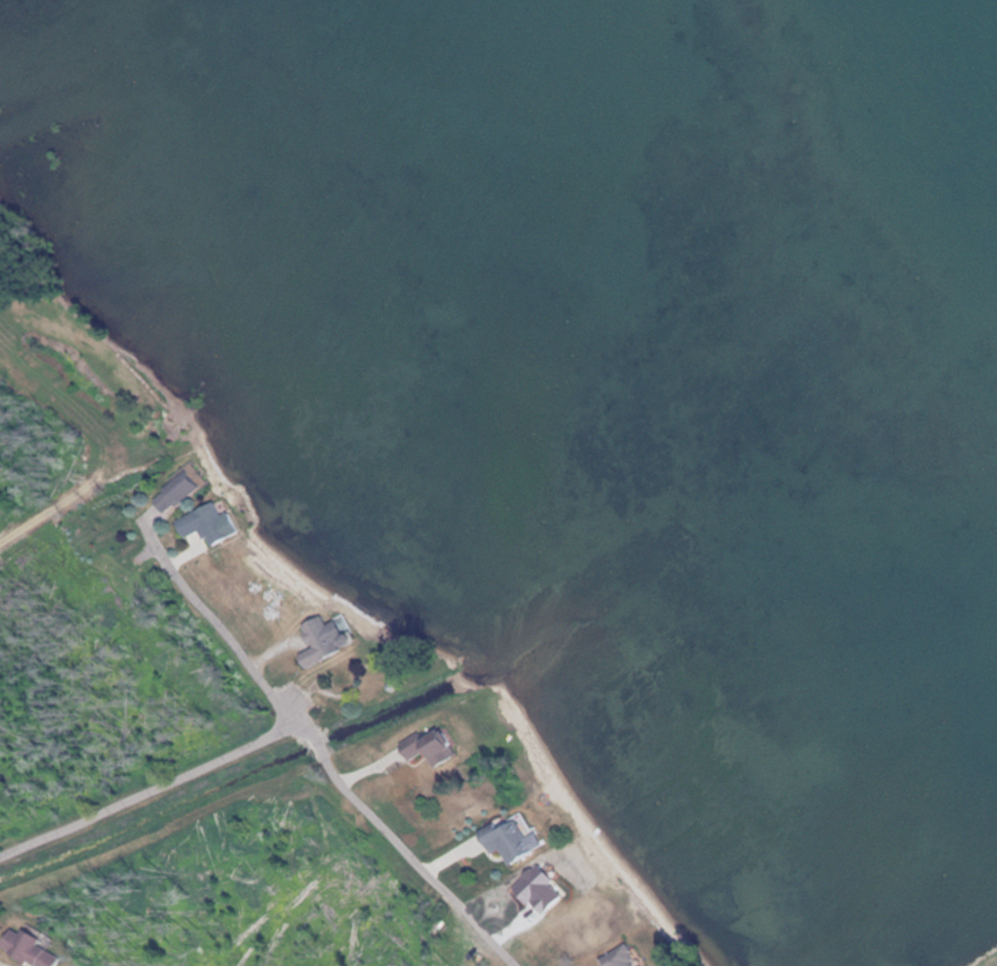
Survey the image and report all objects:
road: (222, 625)
building: (337, 638)
building: (445, 744)
road: (336, 768)
road: (95, 786)
road: (53, 831)
building: (511, 839)
building: (538, 890)
building: (621, 957)

